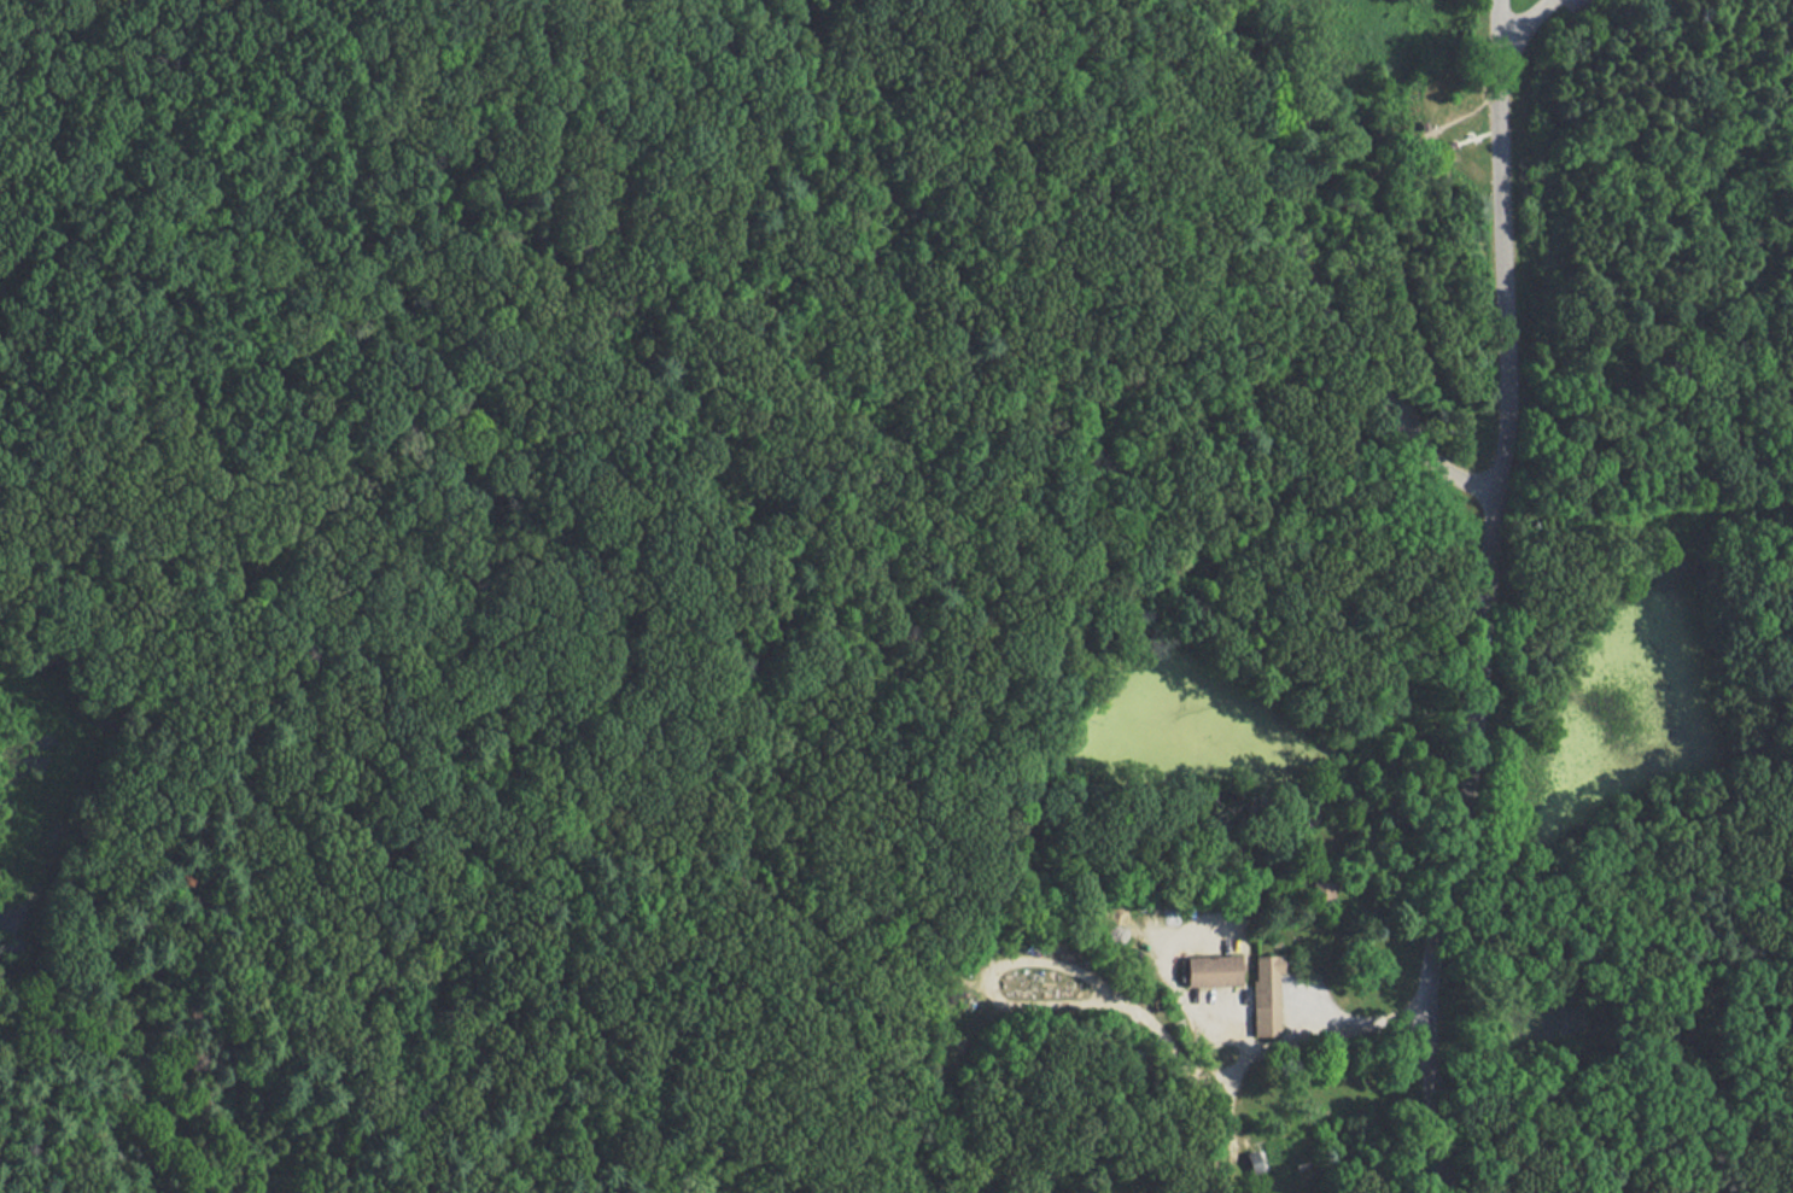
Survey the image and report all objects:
parking lot: (1571, 2)
road: (1508, 39)
road: (497, 55)
road: (1531, 58)
road: (968, 123)
road: (1478, 135)
road: (204, 136)
road: (1261, 138)
building: (1453, 145)
road: (1380, 164)
road: (506, 187)
road: (1503, 269)
road: (1717, 309)
road: (1385, 403)
park: (896, 596)
road: (802, 754)
road: (1452, 842)
building: (1324, 890)
road: (1051, 965)
building: (1216, 971)
building: (1269, 994)
road: (1293, 1041)
building: (1277, 1162)

